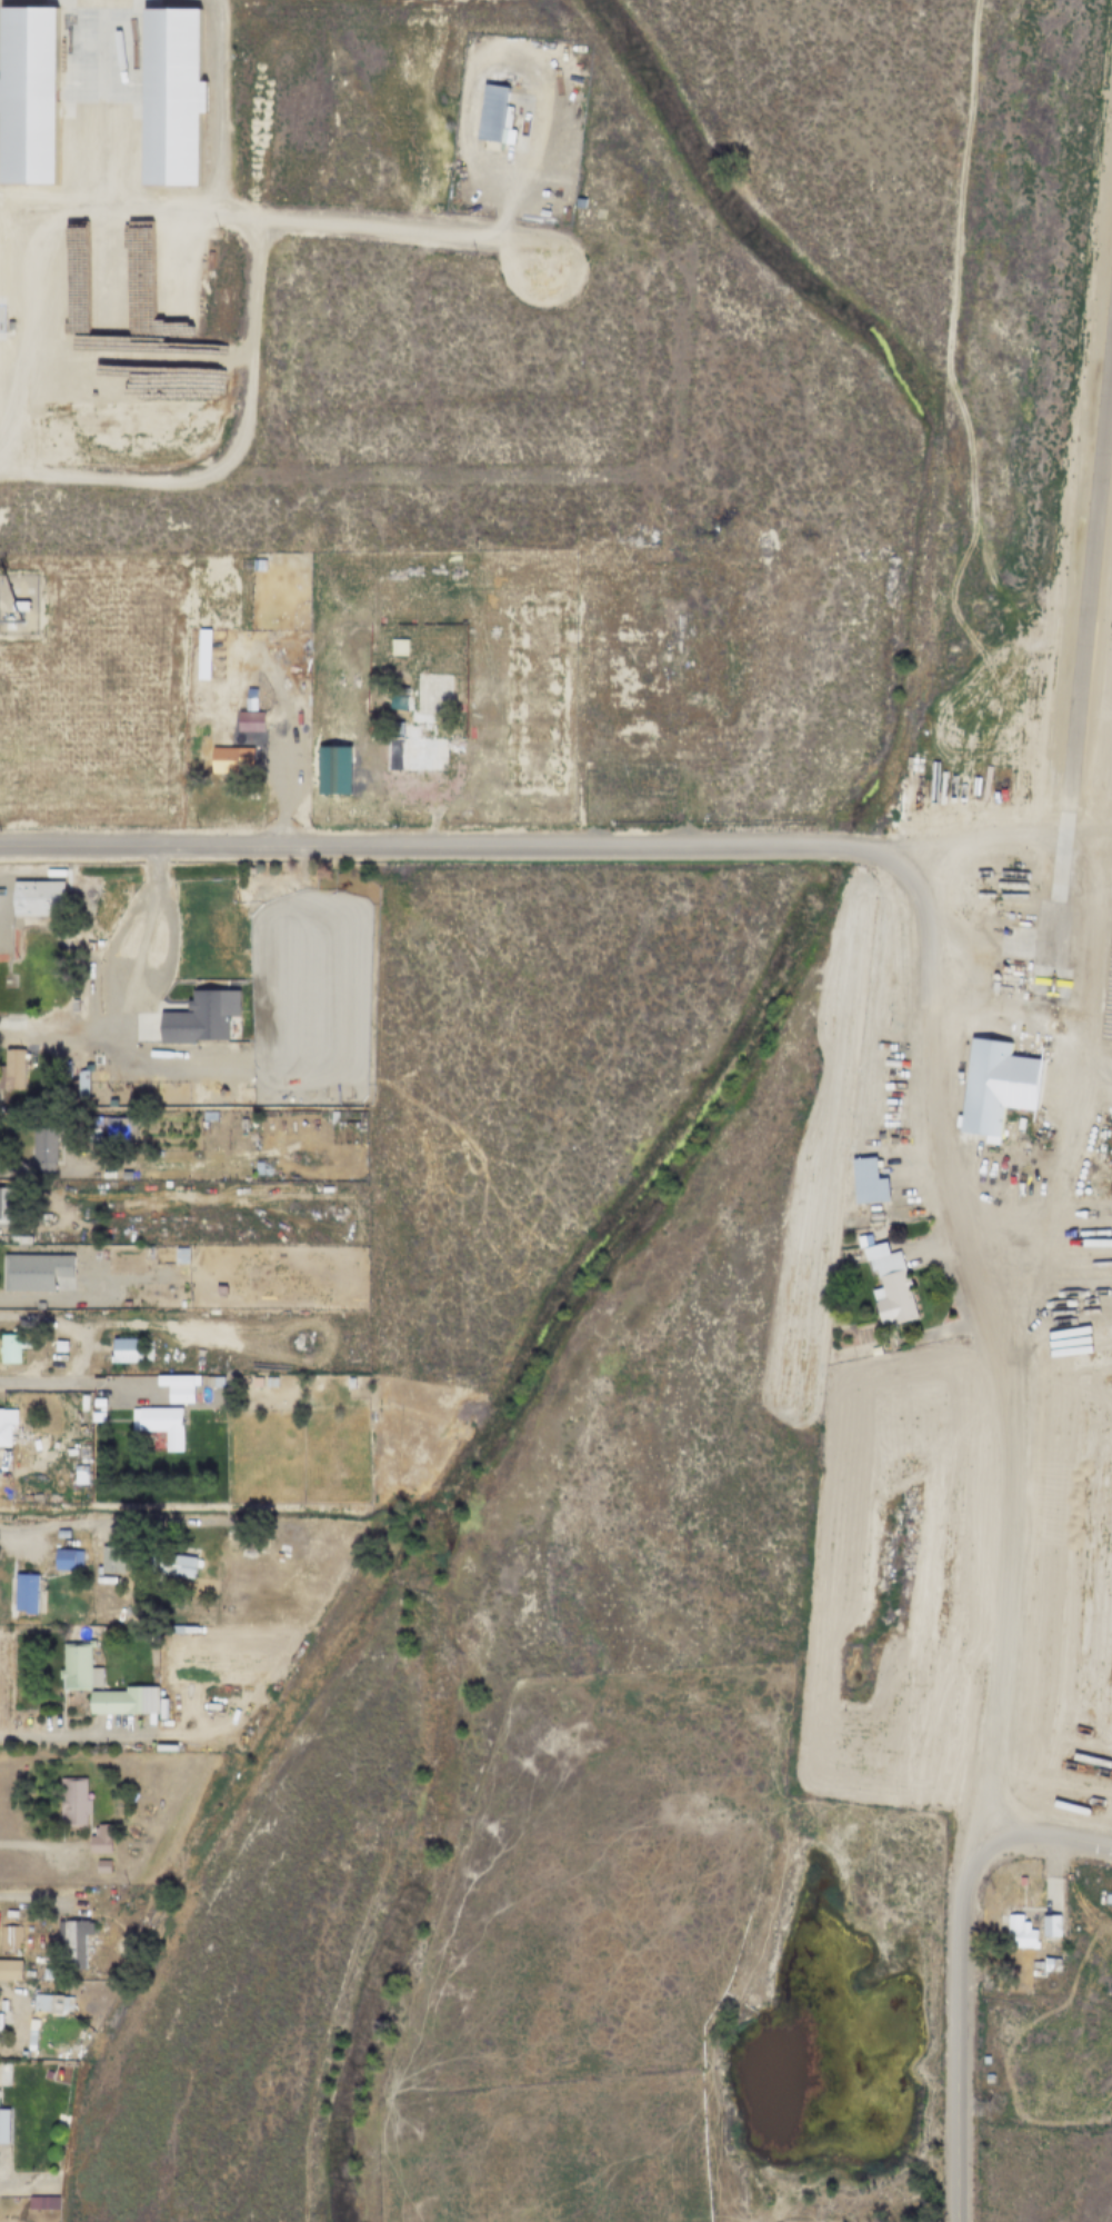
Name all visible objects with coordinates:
building: (27, 94)
building: (166, 96)
building: (491, 116)
building: (580, 205)
road: (210, 207)
road: (242, 228)
road: (100, 247)
road: (0, 261)
road: (43, 267)
road: (253, 276)
building: (162, 306)
road: (0, 322)
building: (2, 322)
building: (11, 328)
road: (2, 398)
road: (960, 427)
building: (468, 560)
building: (259, 565)
building: (18, 607)
building: (398, 647)
building: (201, 654)
airport runway: (1079, 669)
building: (250, 699)
building: (249, 721)
building: (582, 741)
building: (414, 748)
building: (230, 760)
road: (453, 767)
road: (282, 781)
road: (999, 840)
road: (443, 849)
road: (0, 888)
building: (347, 889)
building: (37, 897)
building: (274, 899)
building: (1018, 908)
building: (318, 916)
building: (302, 919)
road: (1080, 939)
road: (1004, 945)
road: (111, 949)
road: (144, 1002)
building: (72, 1005)
building: (199, 1016)
road: (1098, 1066)
building: (12, 1067)
building: (81, 1084)
building: (983, 1086)
building: (208, 1115)
building: (333, 1116)
building: (237, 1123)
building: (91, 1125)
building: (117, 1128)
building: (61, 1134)
parking lot: (895, 1139)
building: (42, 1148)
road: (285, 1153)
building: (257, 1166)
building: (267, 1167)
building: (243, 1173)
road: (1064, 1173)
road: (66, 1174)
building: (126, 1175)
building: (865, 1179)
building: (6, 1205)
road: (323, 1205)
building: (868, 1206)
building: (875, 1214)
road: (109, 1219)
building: (874, 1224)
road: (36, 1227)
building: (21, 1238)
parking lot: (915, 1253)
building: (181, 1255)
building: (33, 1269)
road: (138, 1276)
building: (886, 1282)
road: (66, 1299)
road: (84, 1332)
road: (1050, 1334)
road: (986, 1342)
building: (59, 1345)
building: (12, 1346)
building: (124, 1349)
building: (874, 1349)
building: (330, 1366)
building: (353, 1367)
building: (206, 1381)
building: (219, 1381)
building: (256, 1382)
building: (349, 1382)
road: (111, 1384)
building: (277, 1384)
building: (178, 1386)
building: (97, 1416)
building: (81, 1422)
building: (6, 1424)
building: (159, 1424)
building: (81, 1436)
building: (387, 1442)
building: (380, 1443)
building: (82, 1448)
road: (41, 1462)
building: (77, 1467)
building: (79, 1478)
building: (16, 1497)
building: (27, 1498)
road: (123, 1519)
building: (224, 1533)
building: (61, 1534)
building: (232, 1538)
building: (62, 1543)
building: (249, 1547)
building: (67, 1560)
building: (110, 1560)
building: (170, 1564)
building: (24, 1593)
road: (241, 1614)
building: (173, 1628)
building: (77, 1667)
building: (124, 1700)
road: (67, 1734)
building: (71, 1801)
road: (974, 1829)
building: (98, 1841)
road: (32, 1842)
building: (101, 1864)
building: (1021, 1880)
road: (39, 1892)
building: (104, 1892)
building: (1108, 1897)
building: (1050, 1925)
building: (1021, 1932)
building: (10, 1935)
building: (69, 1943)
building: (16, 1952)
building: (1038, 1956)
building: (1050, 1963)
building: (1035, 1964)
road: (958, 1965)
building: (9, 1970)
building: (27, 1973)
building: (46, 1973)
building: (1031, 1973)
building: (48, 2002)
building: (2, 2004)
building: (0, 2021)
building: (30, 2053)
building: (21, 2054)
building: (984, 2060)
building: (988, 2076)
road: (13, 2114)
building: (58, 2160)

